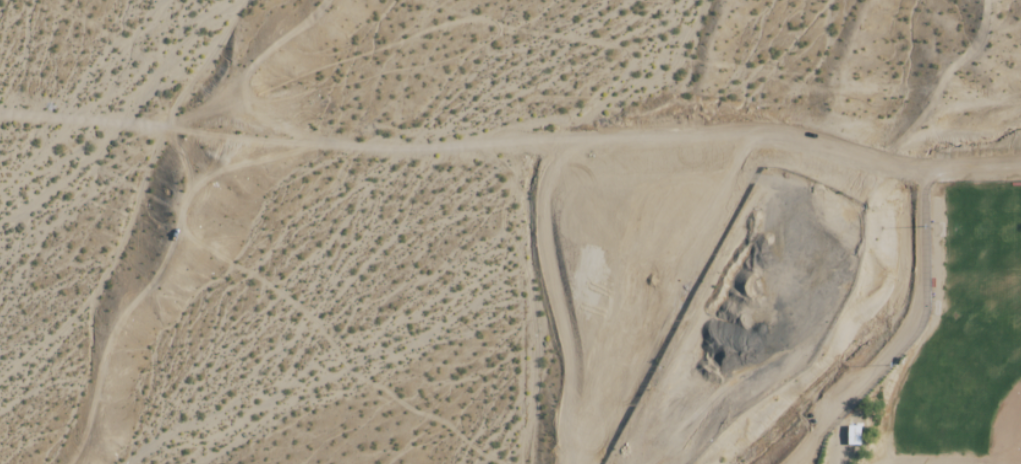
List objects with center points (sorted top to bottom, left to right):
building: (854, 433)

